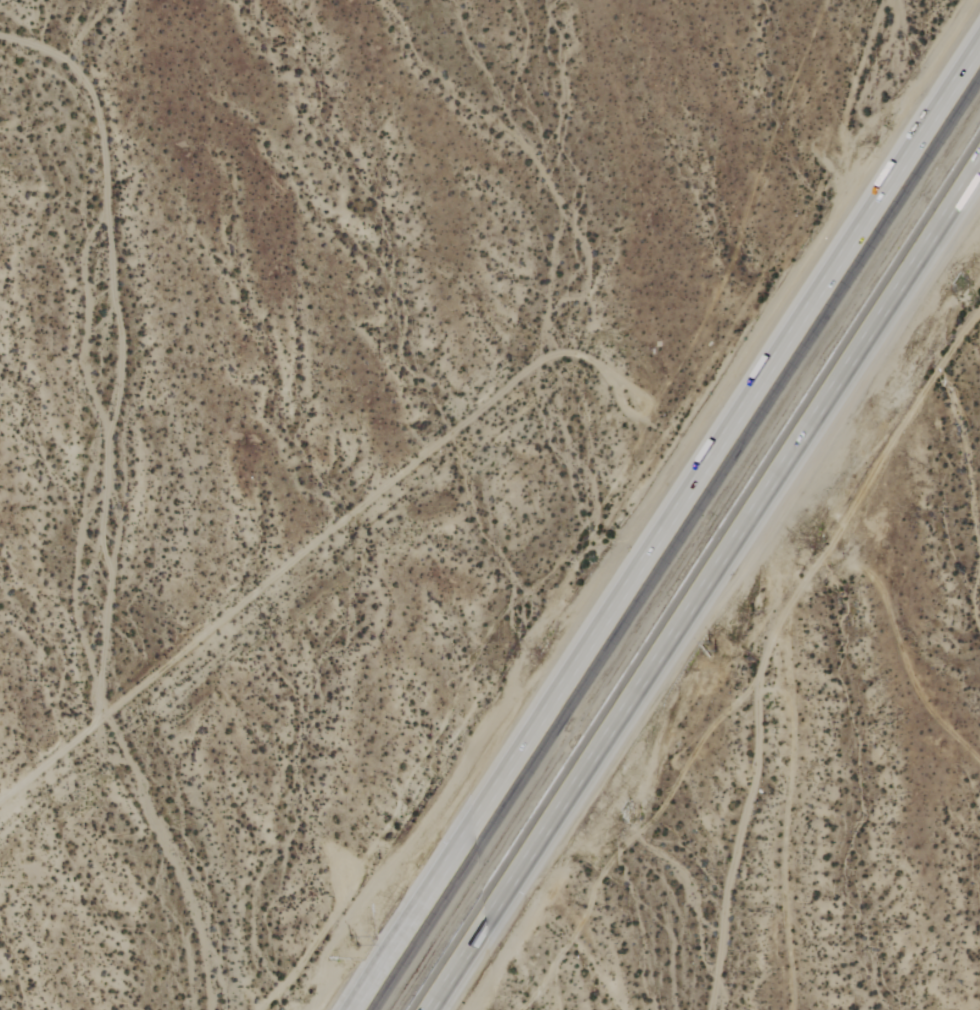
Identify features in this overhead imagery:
road: (662, 526)
railway: (682, 553)
road: (704, 588)
power tower: (544, 646)
power tower: (711, 652)
power tower: (352, 939)

